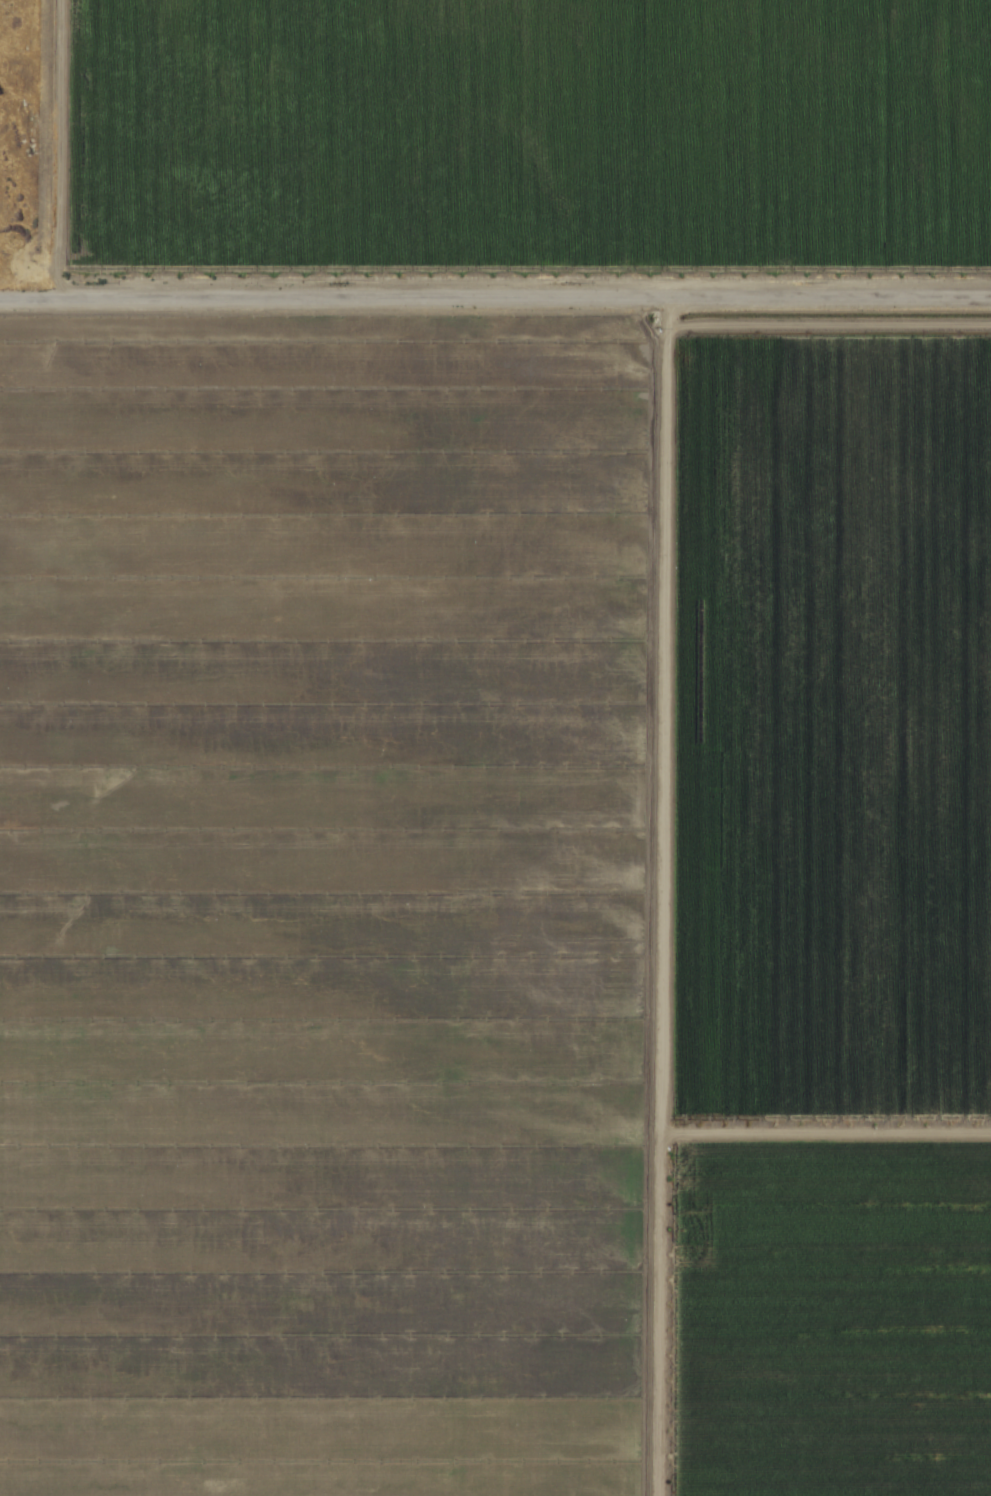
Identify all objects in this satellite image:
road: (495, 302)
road: (651, 898)
road: (823, 1129)

